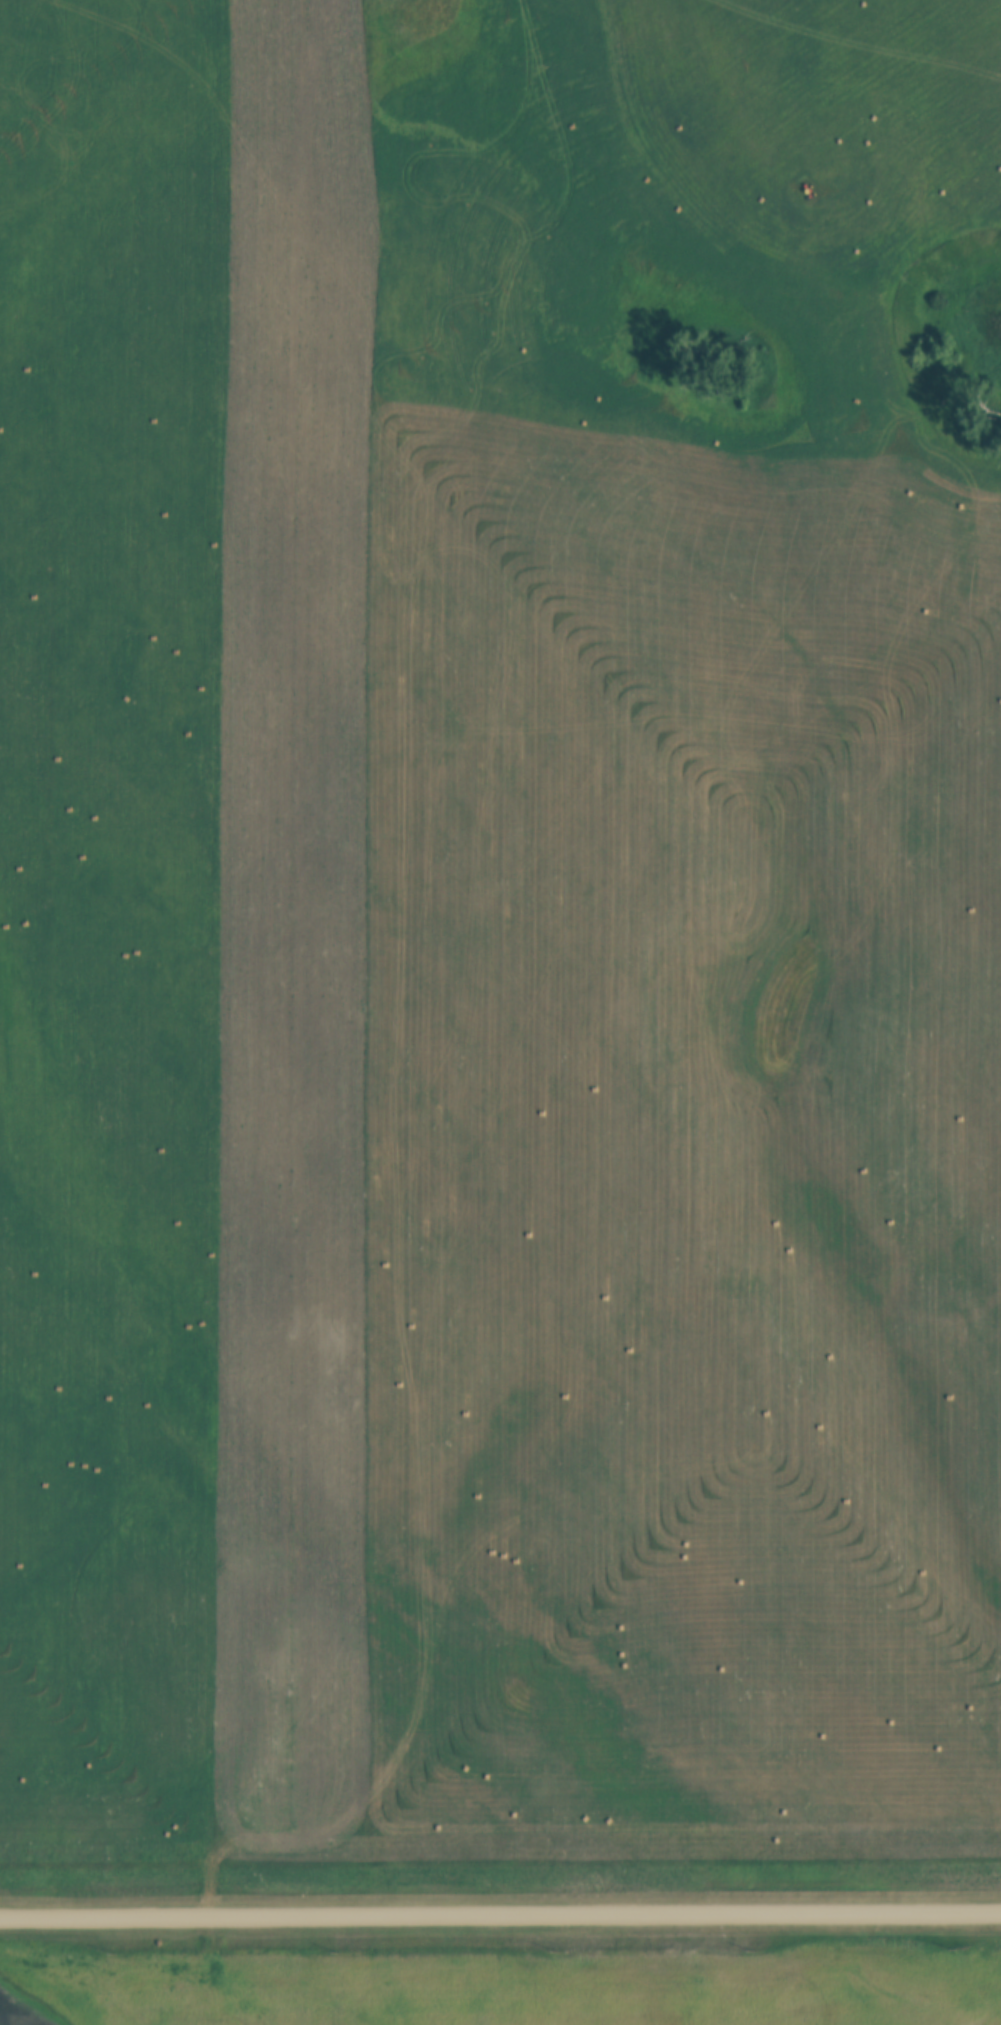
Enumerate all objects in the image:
road: (500, 1910)

